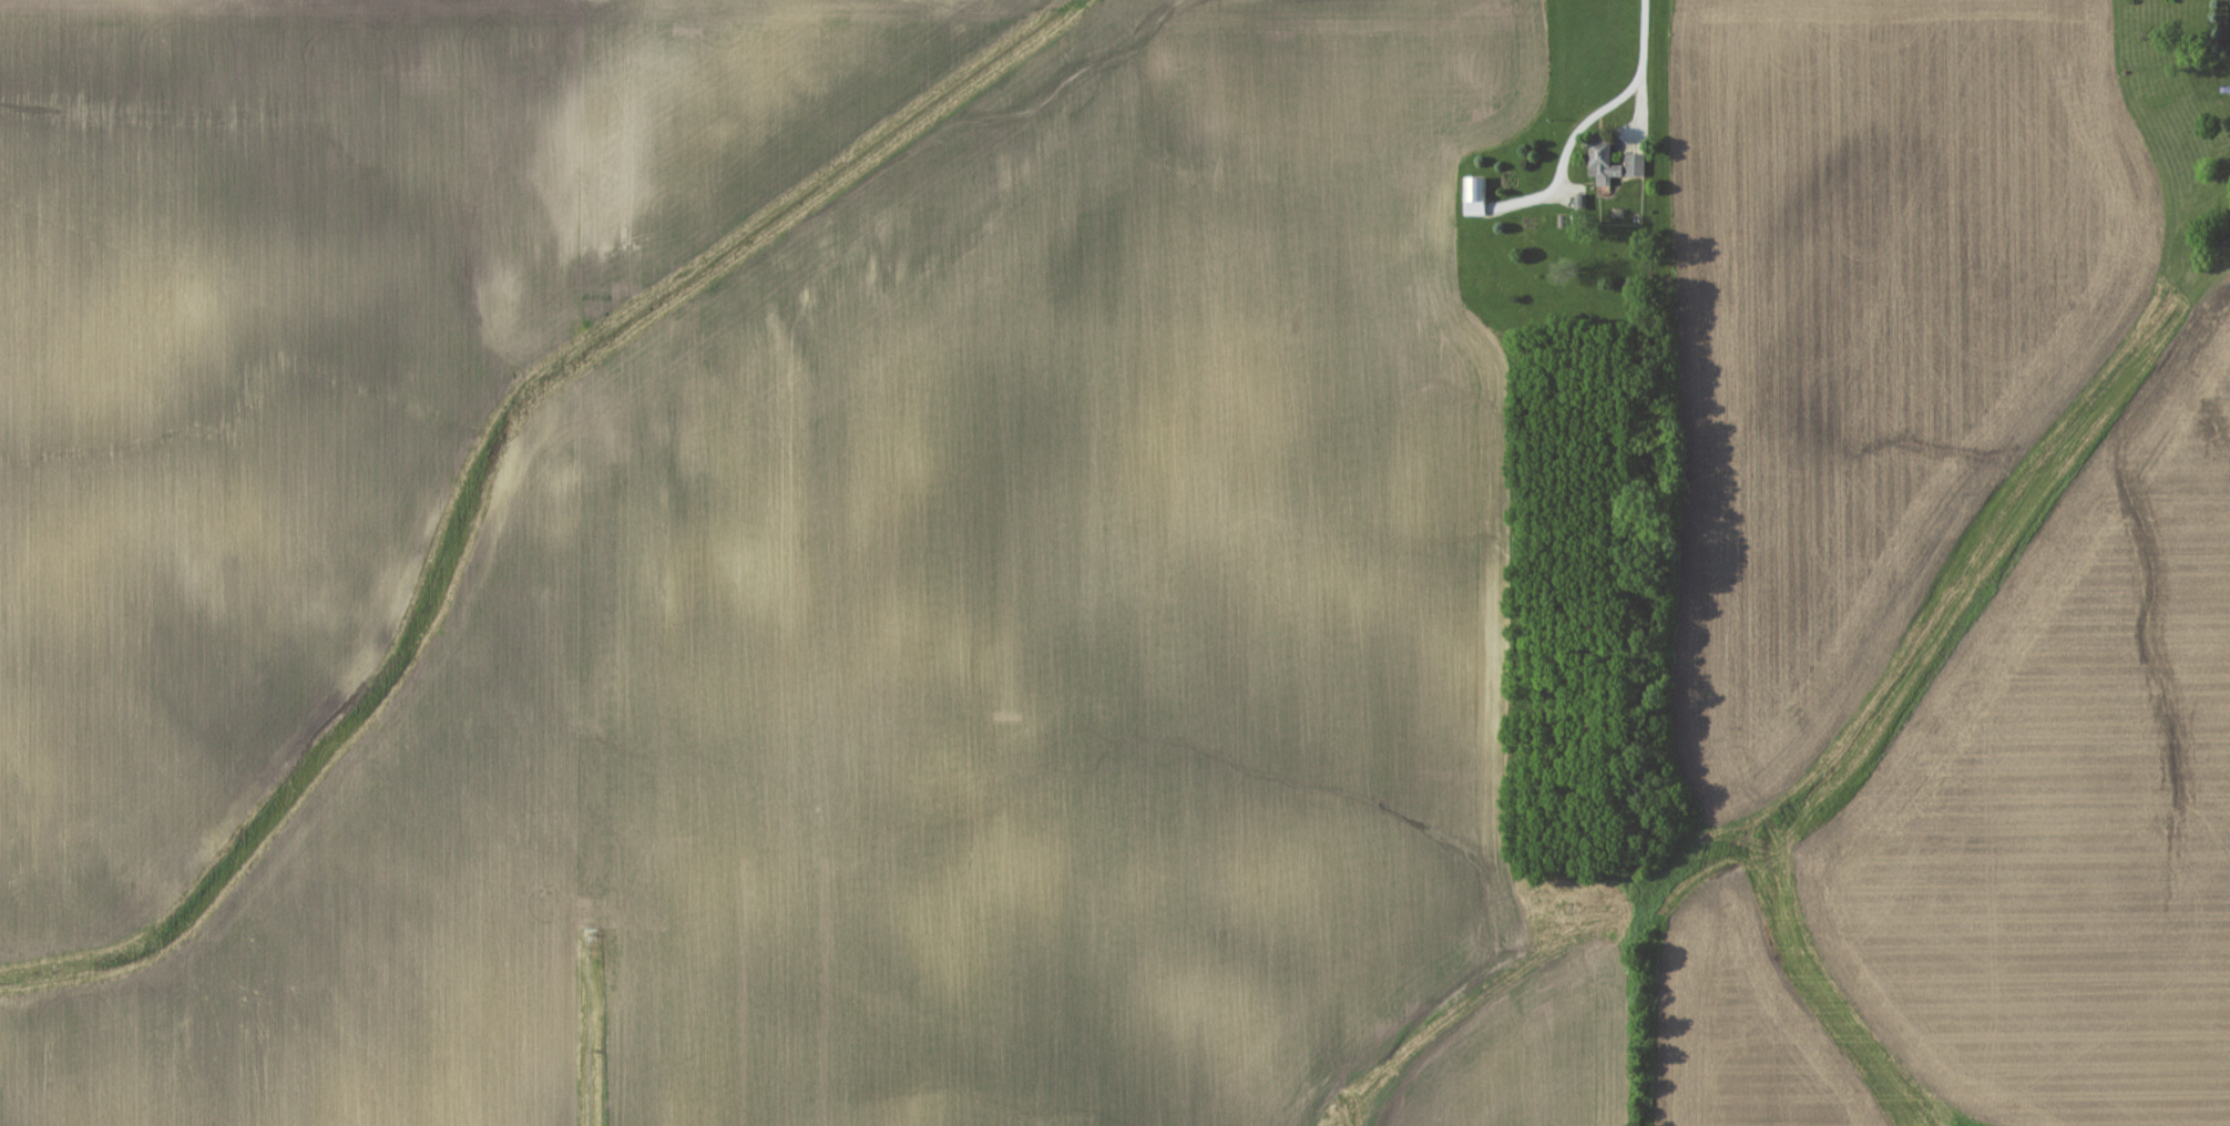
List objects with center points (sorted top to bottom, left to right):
road: (1645, 73)
building: (1600, 161)
building: (1477, 183)

